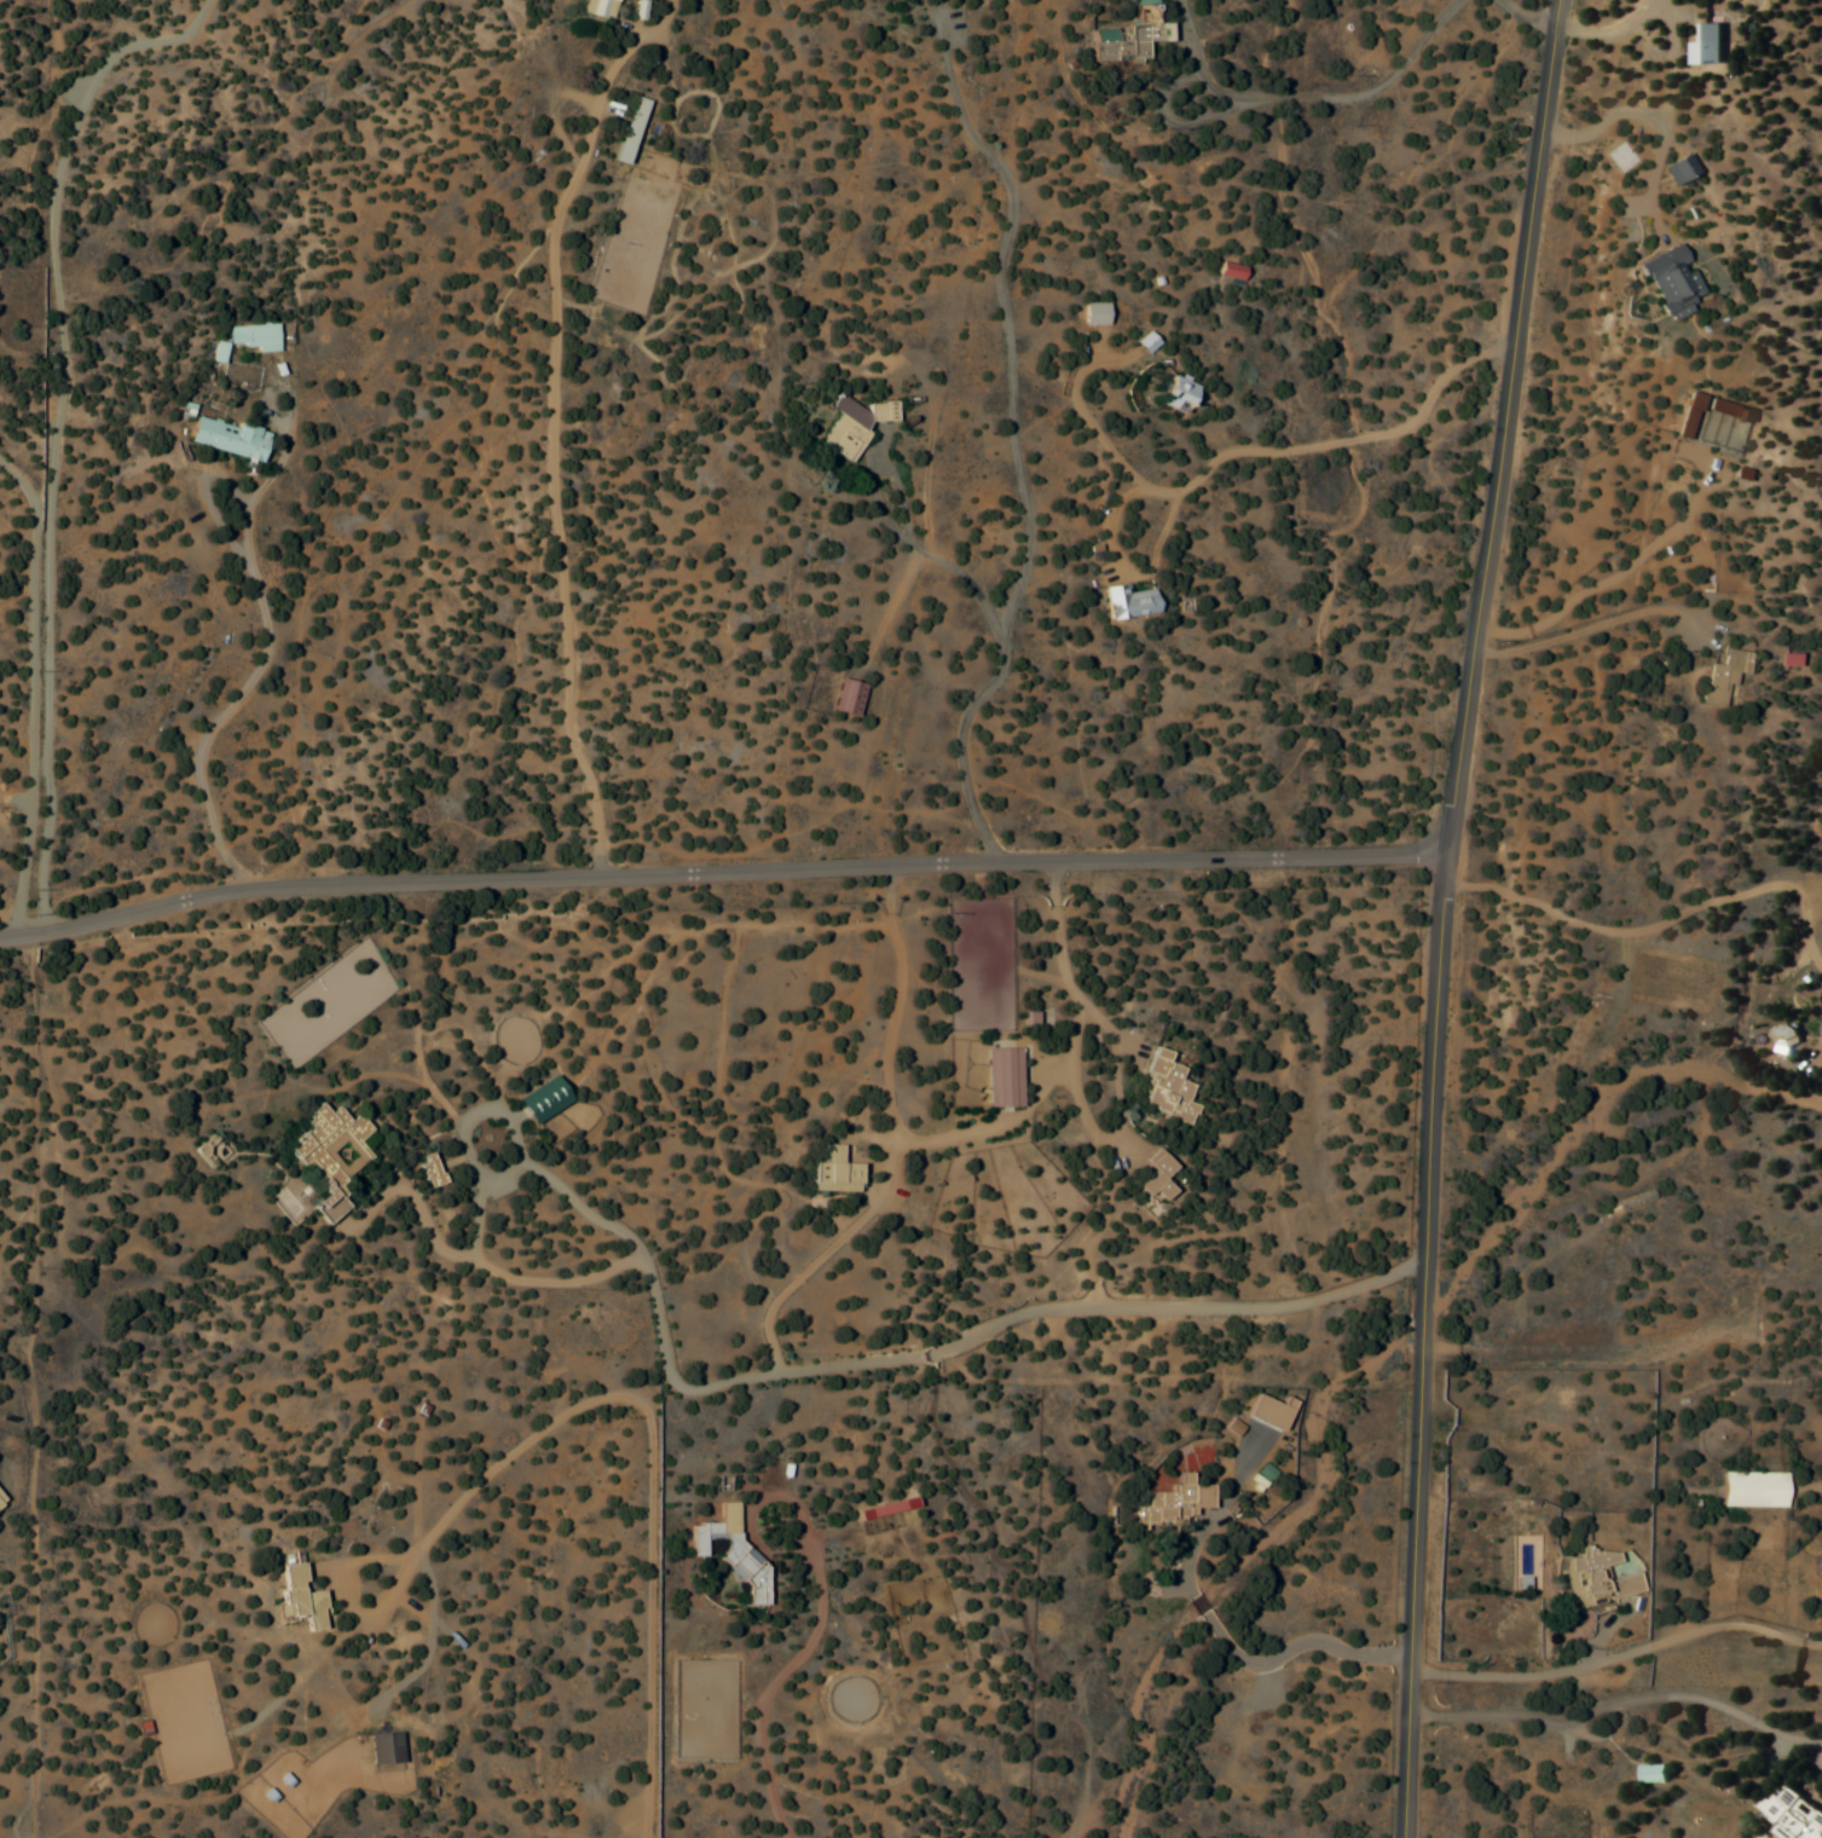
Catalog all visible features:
building: (597, 8)
building: (1127, 35)
building: (1701, 53)
building: (627, 131)
building: (1674, 170)
building: (1227, 271)
building: (1668, 282)
building: (242, 341)
building: (1175, 395)
building: (850, 426)
building: (222, 439)
building: (1123, 602)
building: (1786, 660)
building: (1720, 677)
building: (844, 698)
road: (719, 873)
road: (1439, 915)
building: (1782, 1035)
building: (1000, 1077)
building: (1162, 1092)
building: (539, 1100)
building: (328, 1148)
building: (831, 1173)
building: (1153, 1178)
road: (935, 1354)
building: (1516, 1397)
building: (1749, 1490)
building: (1170, 1502)
building: (0, 1504)
building: (883, 1509)
building: (728, 1551)
building: (1593, 1579)
road: (1197, 1583)
building: (299, 1599)
road: (1209, 1601)
road: (1306, 1641)
road: (1618, 1677)
building: (1648, 1774)
building: (1791, 1815)

